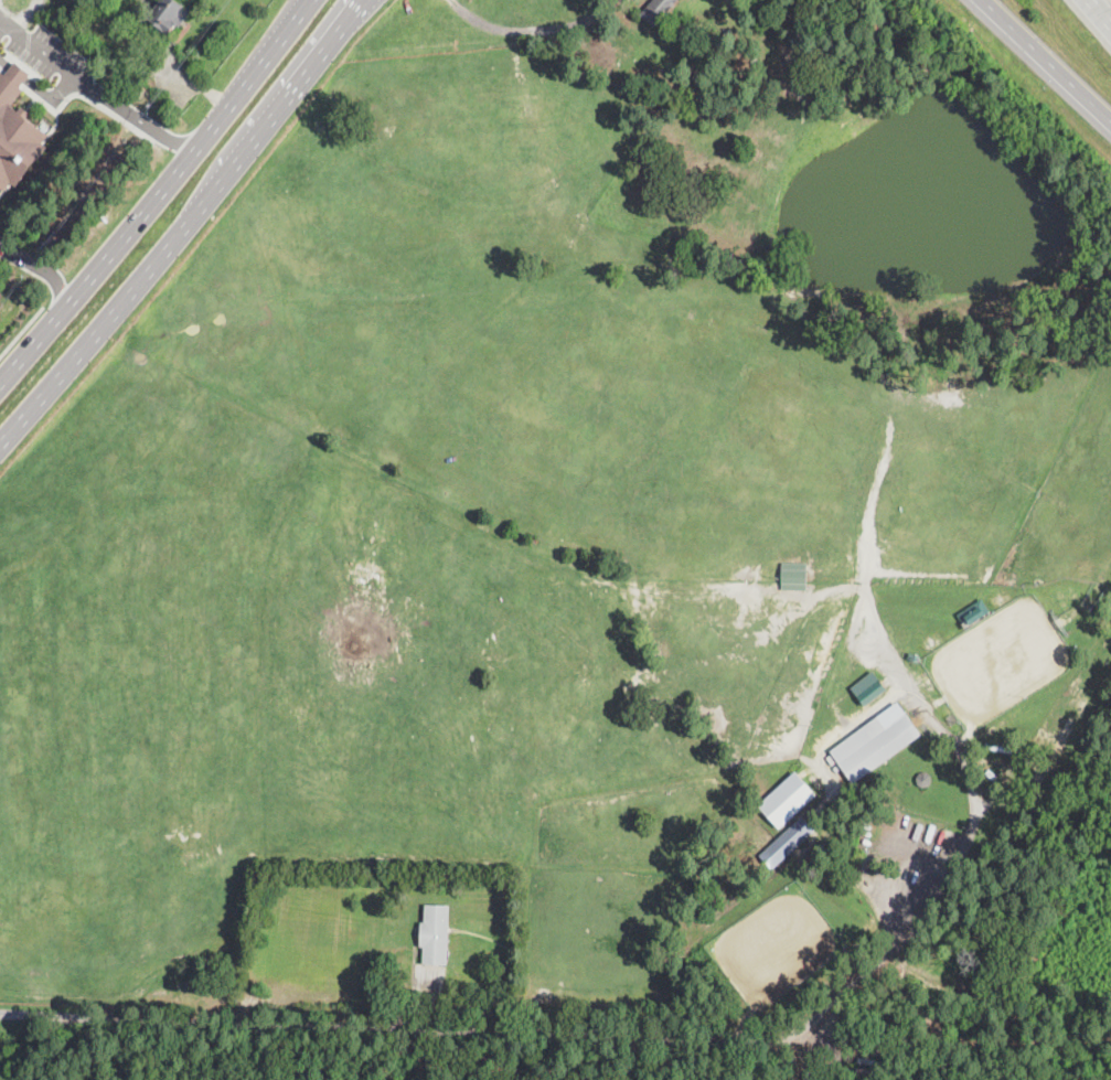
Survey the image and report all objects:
road: (1104, 7)
building: (655, 11)
building: (169, 15)
road: (3, 26)
road: (532, 29)
building: (794, 29)
road: (41, 51)
road: (1047, 58)
road: (38, 87)
road: (136, 118)
building: (17, 129)
road: (153, 196)
road: (189, 226)
road: (41, 268)
road: (22, 328)
building: (794, 576)
building: (973, 612)
building: (872, 693)
building: (875, 741)
building: (996, 748)
building: (923, 778)
building: (787, 799)
building: (788, 842)
building: (435, 934)
road: (648, 1038)

